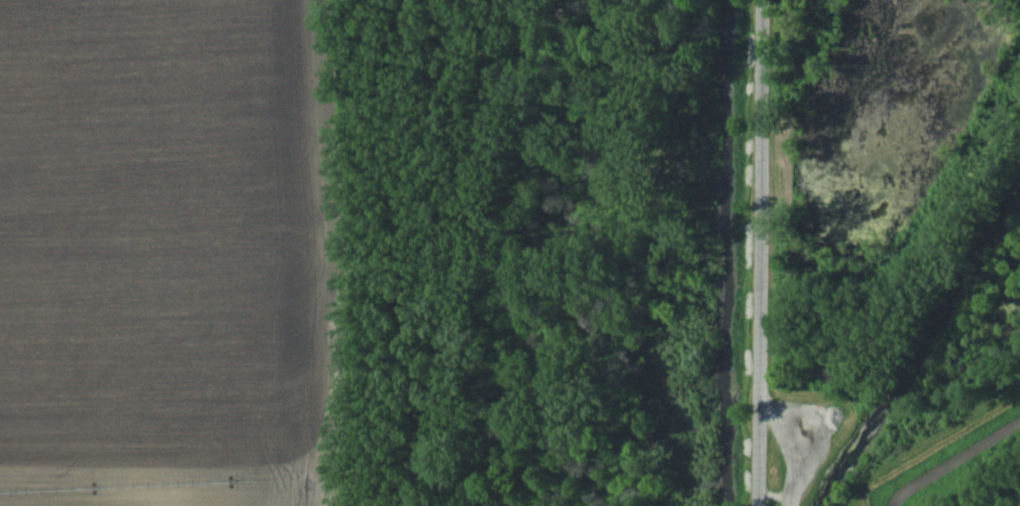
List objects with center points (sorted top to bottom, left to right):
road: (764, 253)

